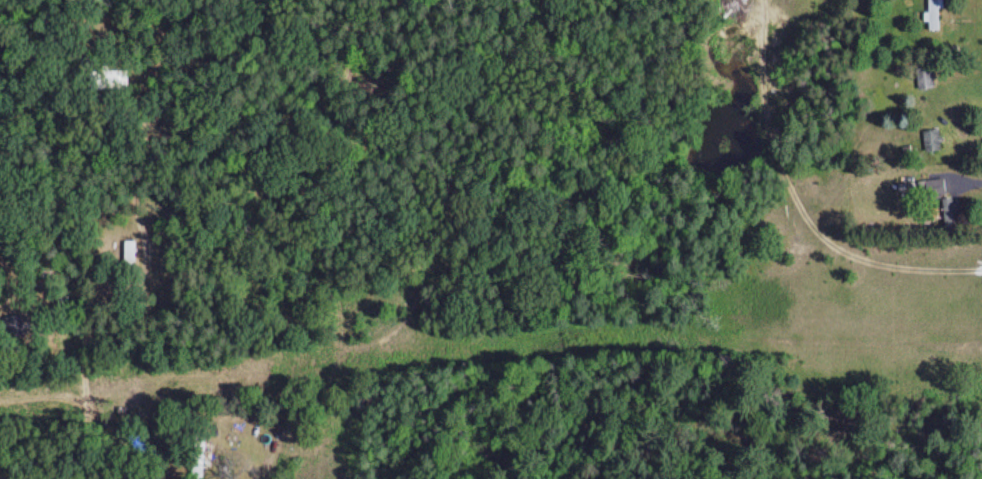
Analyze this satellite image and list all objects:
building: (938, 15)
building: (928, 79)
building: (935, 140)
building: (935, 187)
road: (176, 240)
building: (133, 252)
road: (292, 478)

